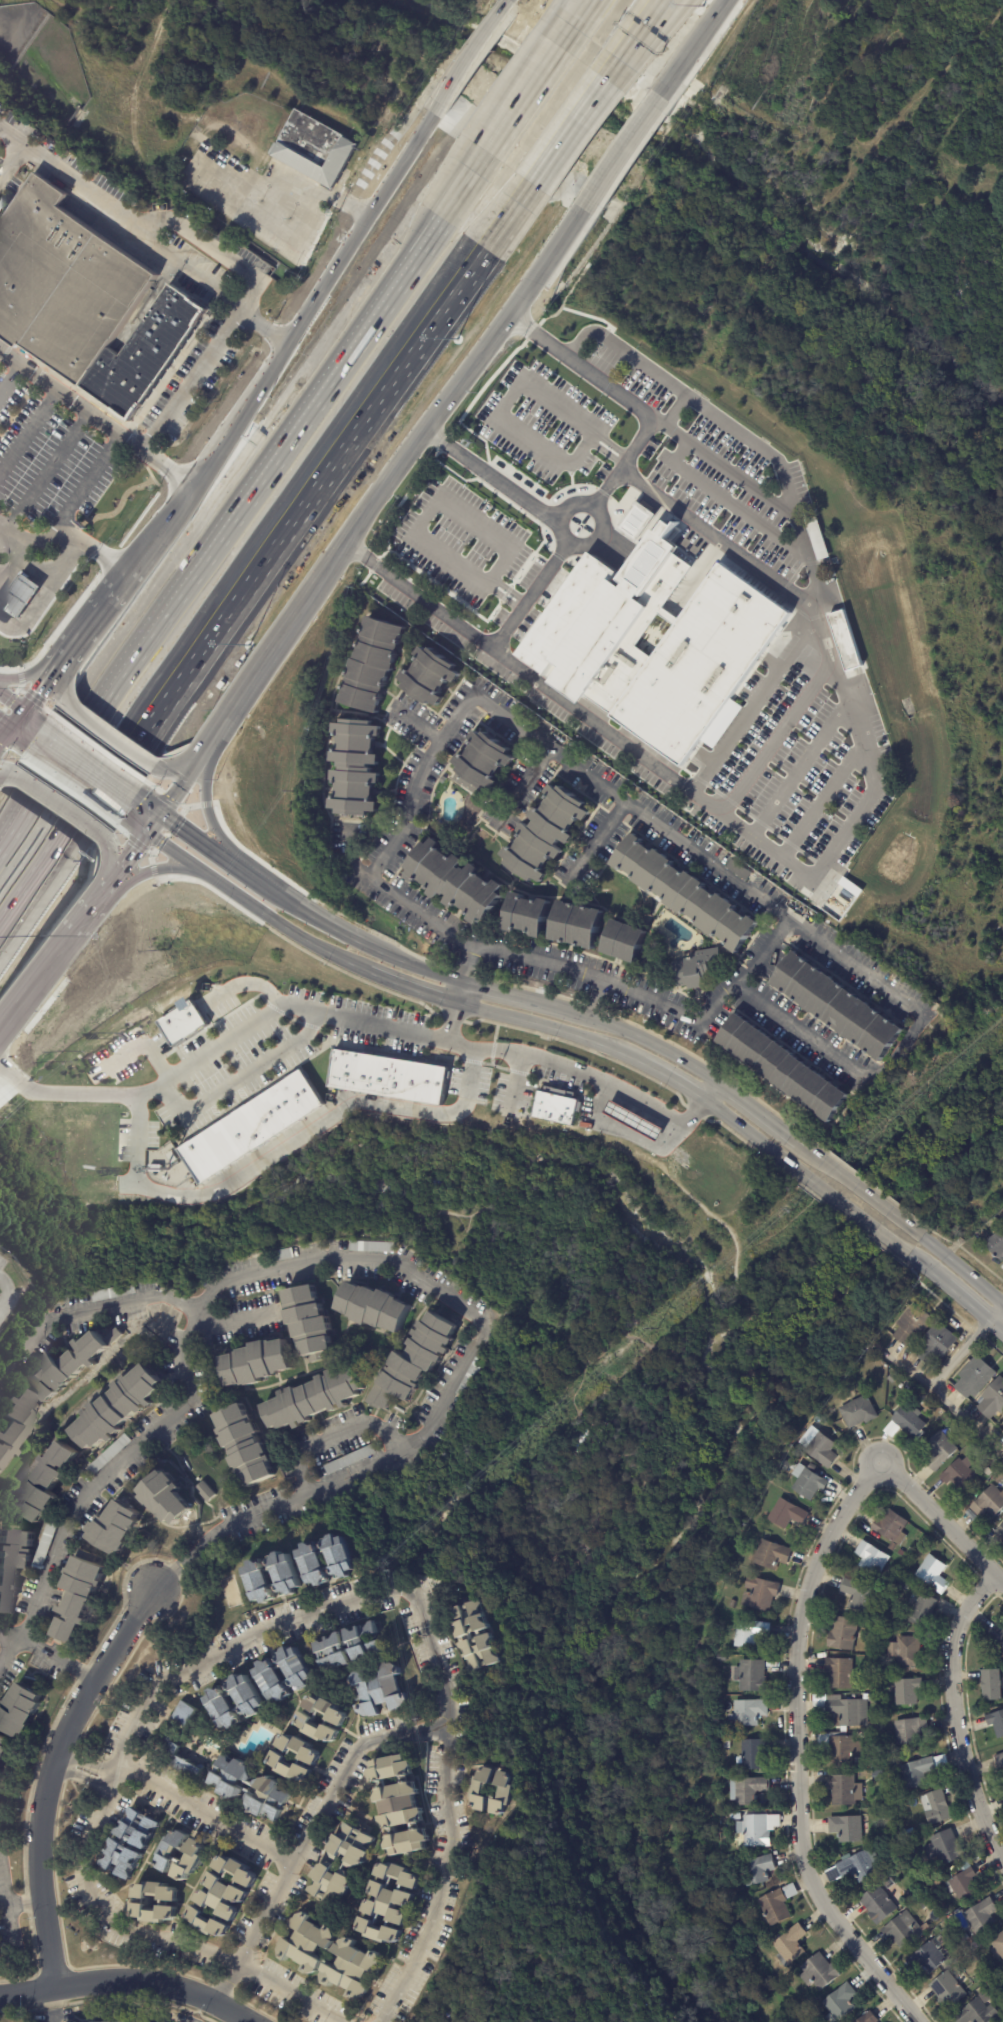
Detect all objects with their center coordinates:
road: (513, 4)
road: (579, 6)
road: (569, 22)
park: (377, 33)
road: (629, 38)
road: (645, 38)
road: (681, 47)
road: (463, 77)
road: (519, 98)
road: (567, 130)
building: (317, 149)
road: (608, 150)
road: (13, 165)
road: (461, 184)
road: (317, 188)
road: (508, 217)
road: (120, 219)
road: (269, 227)
road: (350, 243)
building: (86, 300)
road: (207, 355)
road: (10, 378)
road: (509, 399)
road: (236, 410)
road: (676, 410)
road: (92, 414)
road: (430, 418)
road: (27, 427)
road: (684, 437)
road: (46, 469)
road: (88, 485)
road: (730, 500)
road: (550, 514)
road: (424, 521)
building: (635, 521)
road: (152, 524)
road: (219, 532)
road: (62, 534)
building: (816, 539)
road: (716, 540)
road: (13, 563)
road: (36, 570)
road: (535, 587)
road: (242, 589)
building: (20, 596)
road: (46, 596)
road: (80, 621)
building: (588, 633)
road: (84, 634)
building: (845, 640)
building: (373, 663)
building: (432, 676)
road: (21, 678)
road: (259, 678)
road: (25, 695)
road: (752, 701)
road: (4, 714)
road: (4, 717)
traffic signals: (8, 719)
road: (4, 724)
road: (419, 724)
road: (17, 726)
road: (771, 732)
road: (114, 733)
road: (220, 738)
road: (197, 752)
building: (484, 763)
building: (355, 767)
road: (6, 772)
road: (799, 773)
road: (84, 774)
road: (520, 784)
road: (874, 785)
road: (186, 789)
road: (821, 803)
road: (57, 805)
road: (211, 818)
road: (150, 821)
traffic signals: (160, 828)
building: (548, 833)
road: (594, 840)
road: (679, 843)
road: (209, 844)
road: (134, 862)
building: (739, 870)
road: (160, 871)
building: (455, 882)
building: (686, 893)
road: (257, 907)
road: (81, 910)
road: (304, 911)
building: (528, 915)
building: (580, 924)
road: (75, 938)
building: (625, 941)
road: (410, 963)
building: (696, 967)
road: (612, 984)
road: (410, 989)
road: (460, 992)
road: (502, 992)
building: (838, 1005)
road: (20, 1006)
building: (937, 1007)
road: (452, 1021)
building: (183, 1023)
road: (545, 1026)
road: (633, 1033)
road: (220, 1042)
building: (785, 1066)
road: (581, 1071)
road: (242, 1077)
building: (387, 1077)
road: (666, 1080)
road: (708, 1094)
building: (555, 1105)
road: (760, 1113)
building: (634, 1121)
building: (251, 1127)
road: (737, 1129)
road: (627, 1135)
road: (282, 1145)
building: (174, 1157)
road: (860, 1186)
road: (841, 1203)
building: (1002, 1224)
building: (373, 1246)
building: (995, 1246)
building: (284, 1254)
road: (960, 1266)
road: (924, 1267)
building: (115, 1293)
road: (6, 1294)
road: (126, 1301)
road: (965, 1302)
building: (373, 1307)
road: (996, 1316)
building: (311, 1323)
building: (911, 1325)
road: (996, 1330)
building: (934, 1345)
road: (960, 1355)
building: (414, 1361)
building: (259, 1362)
building: (71, 1367)
building: (473, 1376)
building: (973, 1378)
road: (455, 1379)
road: (942, 1398)
building: (313, 1399)
building: (991, 1400)
building: (120, 1409)
building: (856, 1412)
building: (15, 1420)
building: (907, 1421)
building: (1001, 1431)
building: (1002, 1433)
road: (333, 1436)
building: (245, 1445)
building: (816, 1447)
building: (938, 1452)
building: (111, 1455)
building: (351, 1460)
building: (783, 1466)
building: (986, 1472)
building: (957, 1476)
road: (102, 1479)
building: (997, 1479)
building: (1002, 1480)
building: (807, 1482)
building: (46, 1483)
building: (205, 1491)
building: (167, 1498)
building: (987, 1503)
building: (786, 1514)
building: (969, 1516)
road: (942, 1524)
building: (117, 1527)
building: (891, 1527)
building: (999, 1533)
building: (46, 1543)
building: (890, 1546)
building: (900, 1553)
building: (767, 1554)
building: (870, 1558)
building: (328, 1559)
building: (13, 1563)
building: (931, 1573)
building: (273, 1576)
building: (757, 1592)
building: (80, 1594)
building: (856, 1594)
building: (732, 1604)
building: (921, 1610)
building: (886, 1615)
building: (886, 1620)
building: (882, 1630)
road: (427, 1632)
building: (748, 1633)
building: (841, 1633)
building: (477, 1635)
building: (996, 1637)
building: (353, 1647)
building: (905, 1652)
road: (46, 1657)
building: (717, 1657)
building: (870, 1658)
building: (285, 1672)
building: (839, 1673)
building: (749, 1675)
building: (989, 1686)
building: (383, 1690)
building: (905, 1690)
building: (872, 1698)
building: (234, 1701)
building: (20, 1710)
building: (746, 1711)
building: (845, 1711)
building: (881, 1712)
road: (957, 1712)
building: (189, 1713)
building: (883, 1719)
building: (311, 1720)
building: (995, 1724)
building: (874, 1729)
building: (908, 1730)
building: (726, 1745)
building: (4, 1747)
building: (841, 1750)
road: (796, 1753)
building: (752, 1754)
building: (725, 1755)
building: (183, 1758)
building: (283, 1758)
building: (998, 1762)
building: (875, 1764)
building: (915, 1771)
building: (876, 1774)
road: (49, 1775)
building: (271, 1788)
building: (745, 1789)
building: (843, 1790)
building: (481, 1792)
road: (175, 1803)
building: (403, 1804)
building: (936, 1807)
building: (883, 1815)
building: (844, 1828)
building: (757, 1829)
road: (308, 1834)
building: (131, 1843)
building: (907, 1848)
building: (943, 1848)
building: (170, 1854)
building: (345, 1863)
building: (854, 1866)
building: (757, 1869)
building: (962, 1885)
building: (223, 1896)
building: (142, 1902)
road: (7, 1903)
building: (923, 1903)
building: (875, 1904)
building: (390, 1905)
building: (772, 1907)
building: (946, 1909)
building: (979, 1915)
building: (901, 1931)
road: (153, 1935)
building: (789, 1945)
building: (996, 1945)
building: (928, 1955)
building: (301, 1958)
building: (817, 1973)
road: (128, 1979)
building: (998, 1979)
building: (1001, 1986)
building: (945, 1990)
building: (838, 2003)
road: (53, 2004)
building: (1001, 2007)
building: (975, 2013)
building: (866, 2018)
building: (84, 2021)

